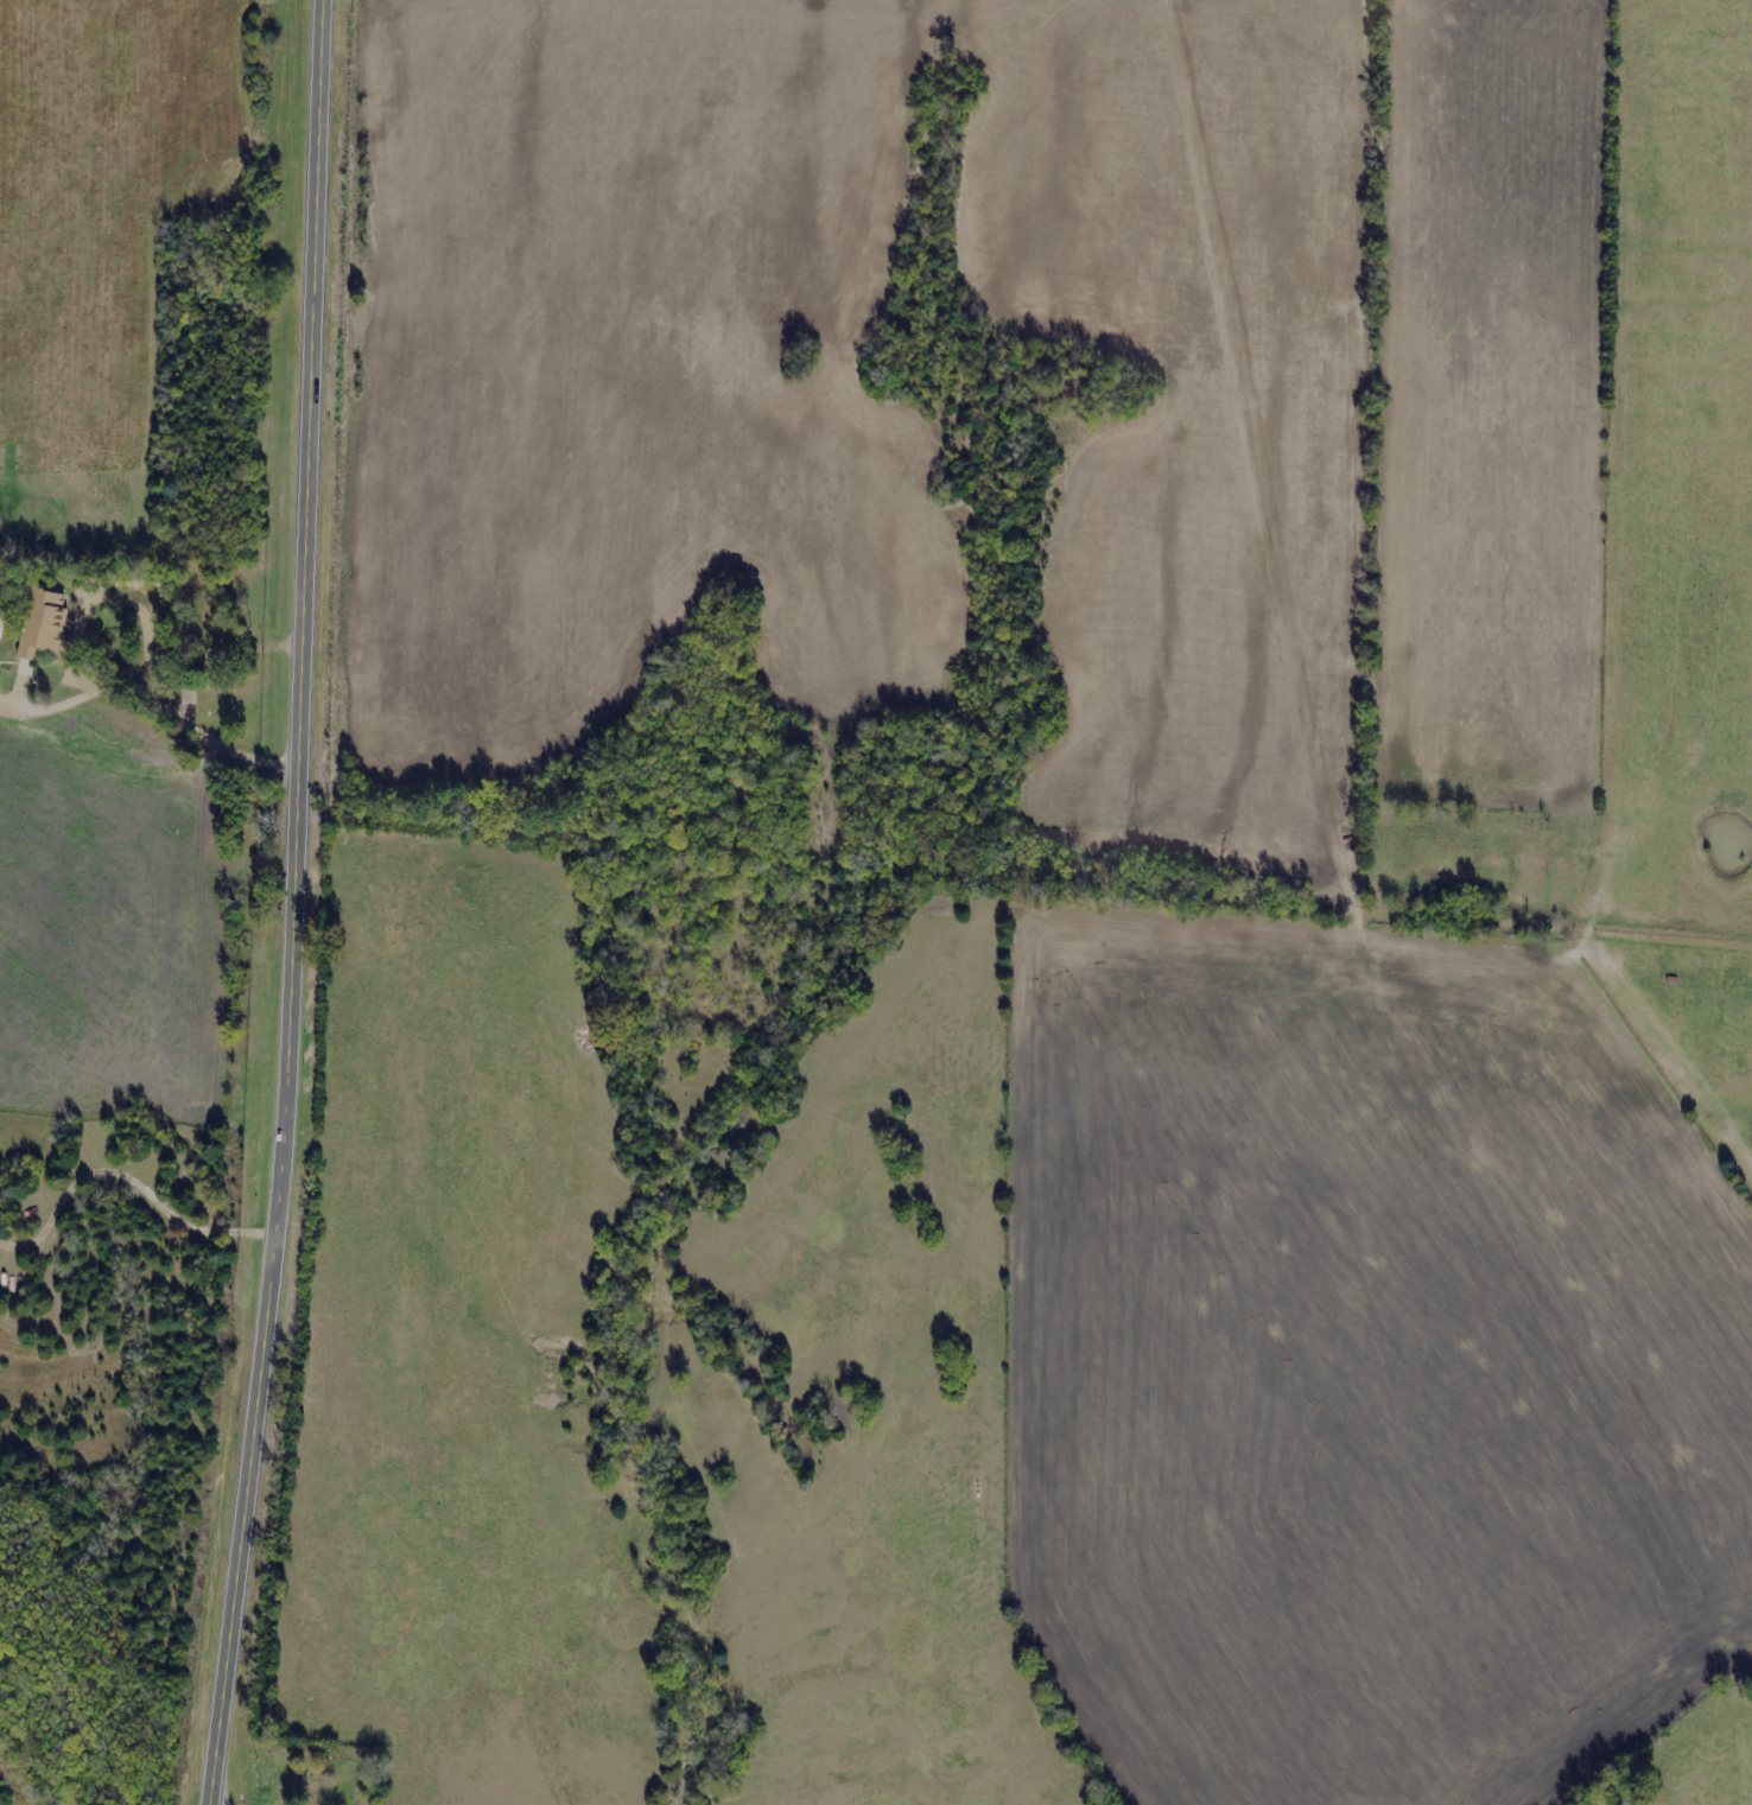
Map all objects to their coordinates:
building: (47, 622)
road: (95, 667)
road: (292, 904)

